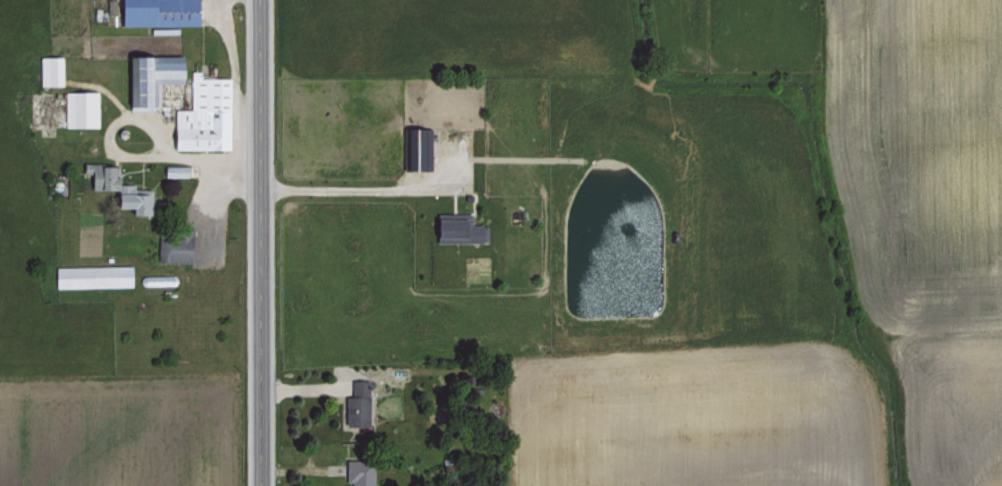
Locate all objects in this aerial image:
building: (157, 11)
building: (49, 69)
building: (151, 77)
building: (80, 108)
building: (203, 114)
building: (416, 147)
building: (175, 170)
road: (346, 185)
building: (118, 187)
building: (458, 229)
road: (256, 243)
building: (174, 246)
building: (92, 275)
building: (356, 404)
building: (359, 472)

